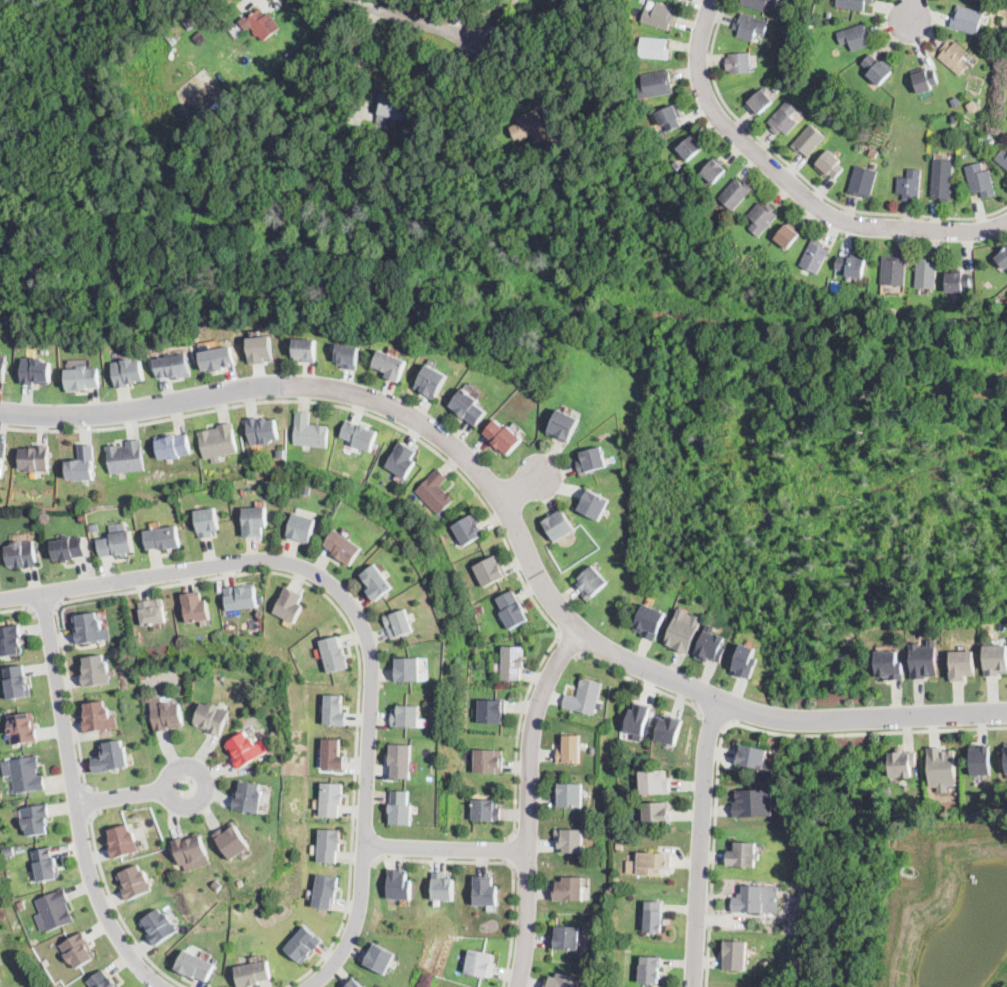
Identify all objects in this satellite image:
building: (680, 0)
building: (761, 4)
building: (853, 4)
building: (636, 10)
road: (914, 10)
building: (829, 13)
building: (660, 16)
building: (967, 20)
road: (419, 22)
building: (263, 24)
building: (750, 26)
building: (856, 37)
building: (792, 46)
building: (655, 48)
building: (955, 57)
road: (364, 58)
building: (739, 63)
building: (878, 69)
building: (927, 81)
building: (657, 83)
building: (1005, 83)
building: (776, 88)
building: (968, 96)
building: (760, 102)
building: (391, 108)
building: (670, 117)
building: (955, 118)
building: (784, 119)
building: (536, 133)
building: (809, 140)
building: (991, 141)
building: (504, 147)
building: (691, 147)
building: (1002, 158)
building: (830, 165)
building: (714, 170)
road: (803, 178)
building: (980, 180)
building: (863, 181)
building: (910, 185)
building: (942, 185)
road: (793, 188)
building: (736, 193)
building: (763, 218)
building: (788, 235)
building: (815, 256)
building: (1003, 258)
building: (852, 266)
building: (894, 271)
building: (926, 274)
building: (958, 282)
building: (925, 312)
building: (951, 320)
building: (261, 348)
building: (306, 350)
building: (348, 356)
building: (220, 358)
building: (3, 365)
building: (175, 365)
building: (391, 365)
building: (38, 371)
building: (130, 371)
building: (85, 377)
building: (432, 382)
building: (469, 407)
building: (564, 426)
building: (261, 430)
building: (309, 432)
building: (359, 435)
building: (503, 437)
building: (217, 441)
building: (173, 447)
road: (433, 449)
building: (280, 452)
building: (2, 456)
building: (125, 457)
building: (34, 458)
building: (402, 460)
building: (592, 460)
building: (83, 463)
road: (522, 487)
building: (307, 488)
building: (434, 491)
building: (594, 505)
building: (254, 521)
building: (207, 522)
road: (515, 524)
building: (559, 525)
building: (95, 526)
building: (301, 528)
building: (469, 528)
building: (163, 538)
building: (116, 544)
building: (69, 546)
building: (342, 547)
building: (21, 554)
road: (303, 568)
building: (490, 571)
road: (219, 577)
building: (377, 582)
building: (591, 583)
building: (239, 597)
building: (260, 598)
building: (288, 605)
building: (194, 607)
road: (19, 608)
building: (479, 608)
road: (44, 609)
building: (511, 609)
building: (150, 611)
building: (650, 620)
building: (399, 623)
building: (89, 626)
building: (683, 629)
building: (10, 640)
building: (711, 644)
road: (569, 646)
building: (333, 654)
building: (924, 658)
building: (995, 658)
building: (745, 660)
building: (513, 662)
building: (890, 663)
building: (962, 663)
building: (407, 669)
building: (94, 672)
building: (144, 673)
building: (16, 680)
road: (641, 683)
building: (439, 695)
building: (585, 697)
building: (261, 699)
building: (333, 711)
building: (166, 713)
building: (493, 713)
building: (96, 715)
building: (212, 716)
building: (406, 716)
building: (639, 718)
road: (713, 720)
road: (737, 724)
building: (22, 727)
building: (670, 727)
building: (246, 748)
building: (570, 750)
building: (331, 754)
building: (1006, 754)
building: (753, 755)
building: (110, 756)
building: (982, 758)
building: (401, 759)
building: (627, 760)
building: (489, 761)
building: (902, 761)
building: (941, 767)
building: (26, 775)
building: (654, 781)
building: (248, 794)
road: (131, 795)
building: (570, 795)
building: (330, 799)
road: (76, 801)
building: (755, 801)
road: (92, 802)
road: (529, 803)
building: (400, 808)
building: (487, 810)
building: (657, 811)
building: (35, 819)
building: (122, 839)
building: (231, 839)
building: (570, 840)
road: (701, 842)
building: (620, 843)
building: (327, 845)
road: (445, 849)
road: (510, 850)
building: (9, 851)
building: (190, 851)
building: (743, 854)
road: (363, 861)
road: (504, 862)
building: (654, 863)
building: (46, 865)
building: (133, 882)
building: (216, 883)
building: (398, 885)
building: (442, 887)
building: (570, 889)
building: (324, 891)
building: (486, 891)
building: (757, 899)
building: (22, 904)
road: (117, 907)
building: (55, 909)
building: (653, 917)
road: (343, 921)
building: (158, 924)
road: (354, 924)
building: (566, 938)
building: (302, 945)
building: (78, 950)
building: (735, 956)
building: (378, 958)
building: (480, 964)
building: (193, 966)
building: (649, 970)
building: (250, 974)
building: (0, 979)
building: (0, 980)
building: (101, 980)
building: (562, 981)
building: (353, 983)

